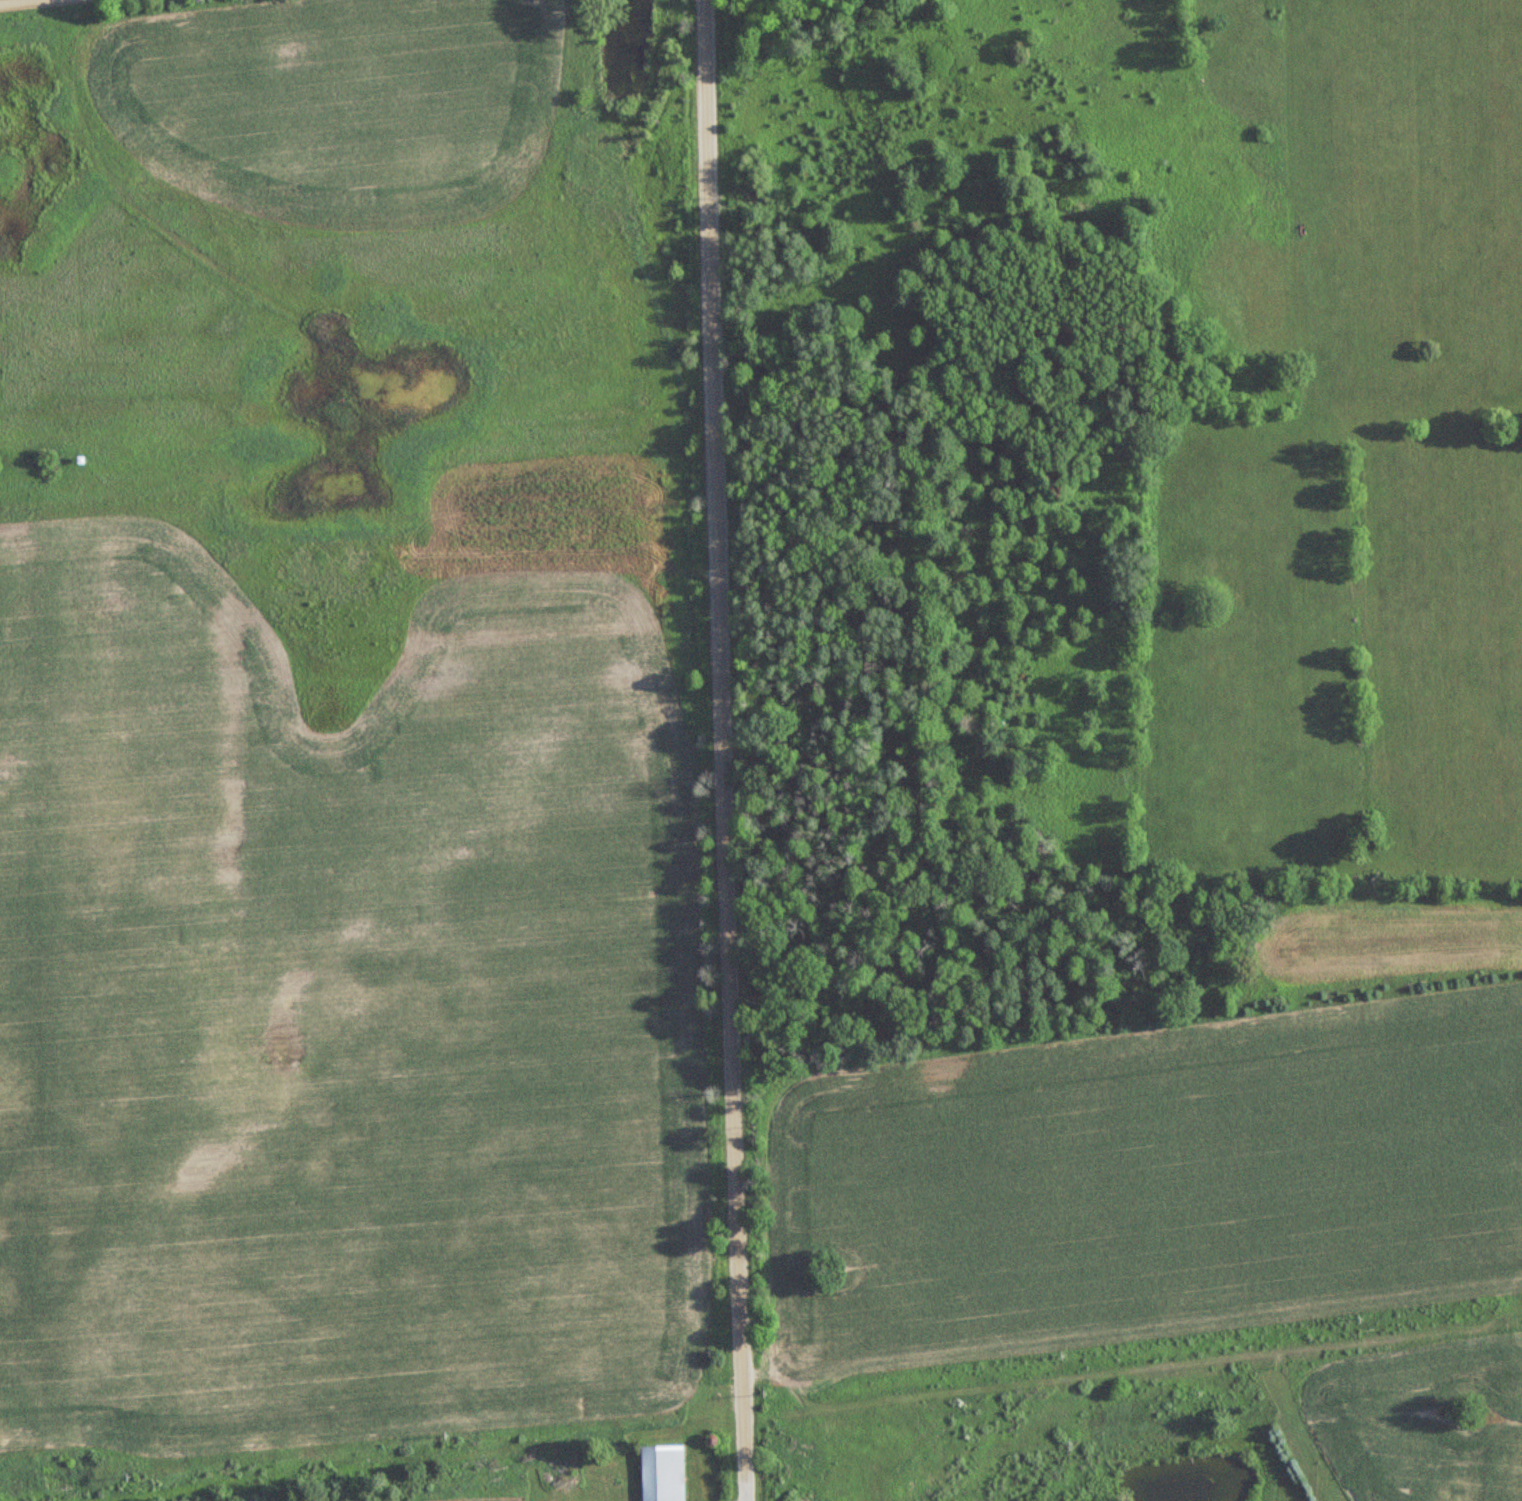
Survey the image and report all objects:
road: (32, 3)
road: (723, 750)
building: (659, 1473)

